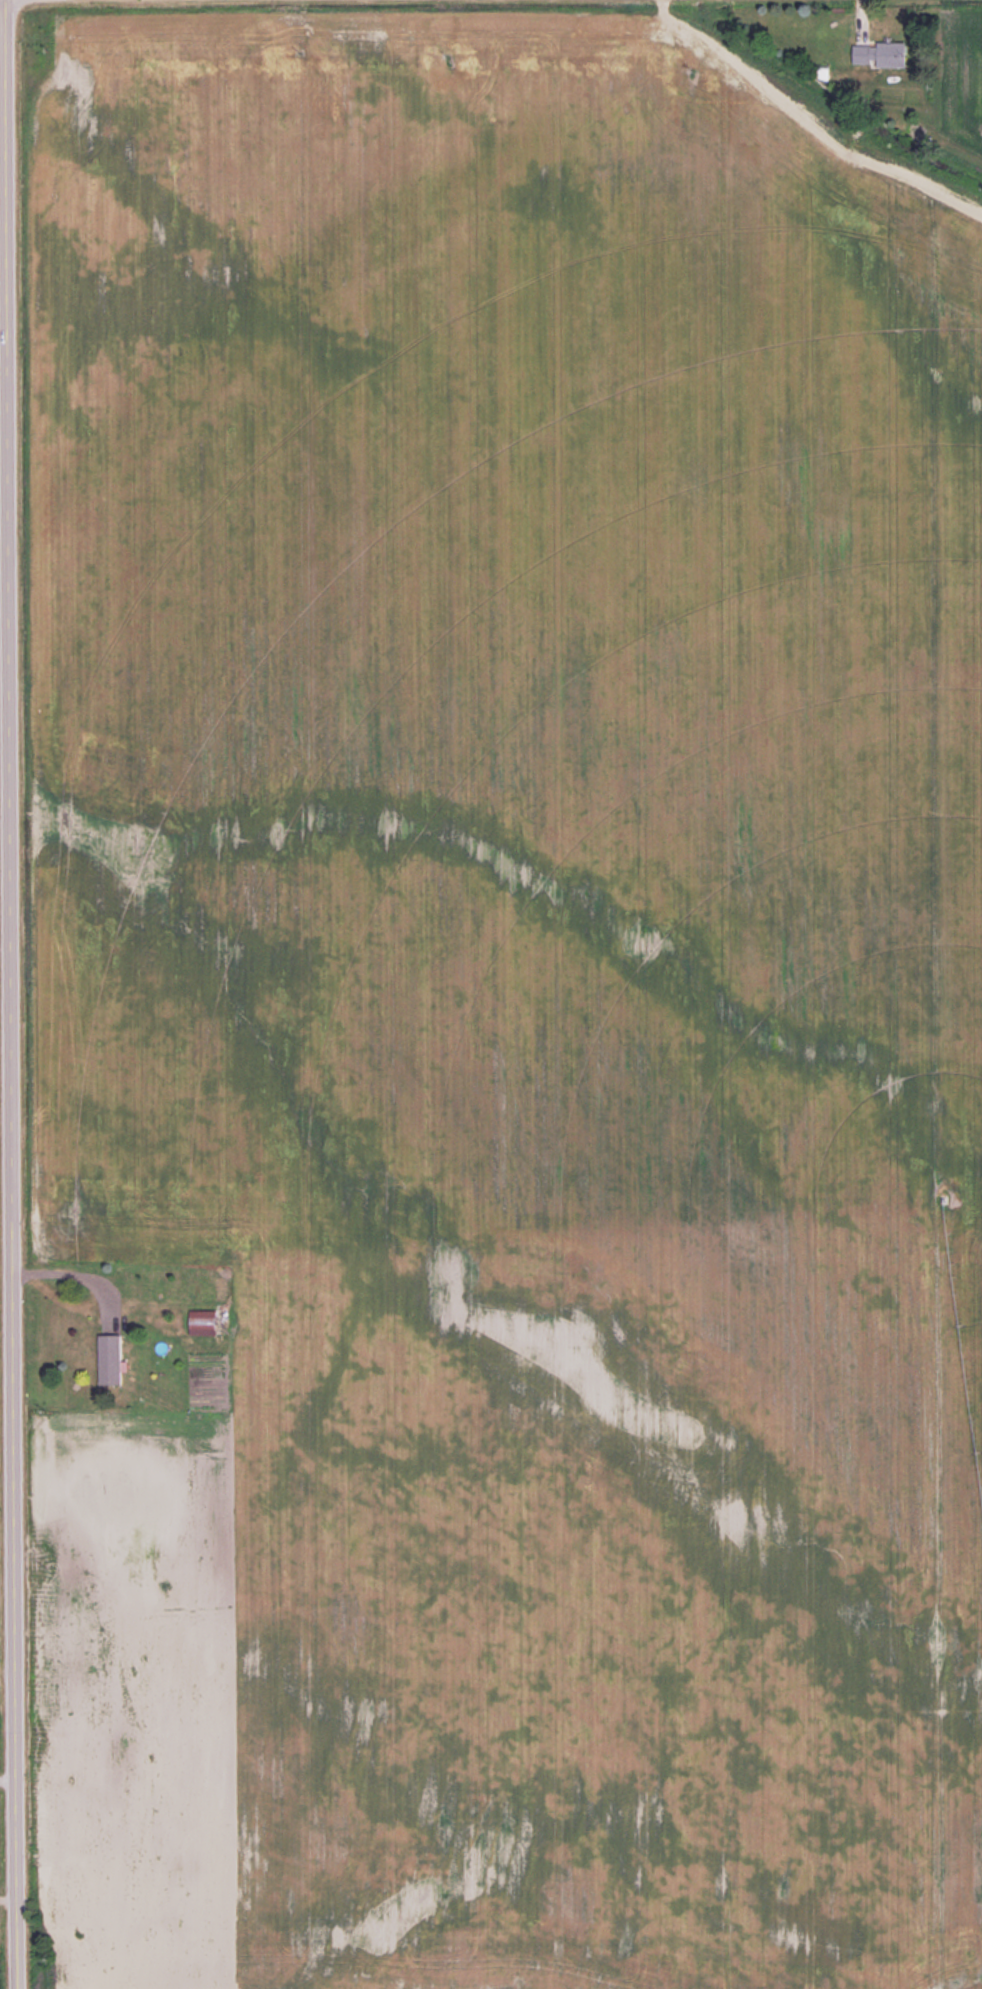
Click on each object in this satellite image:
building: (880, 54)
road: (9, 994)
building: (201, 1322)
building: (110, 1359)
road: (7, 1783)
road: (8, 1898)

